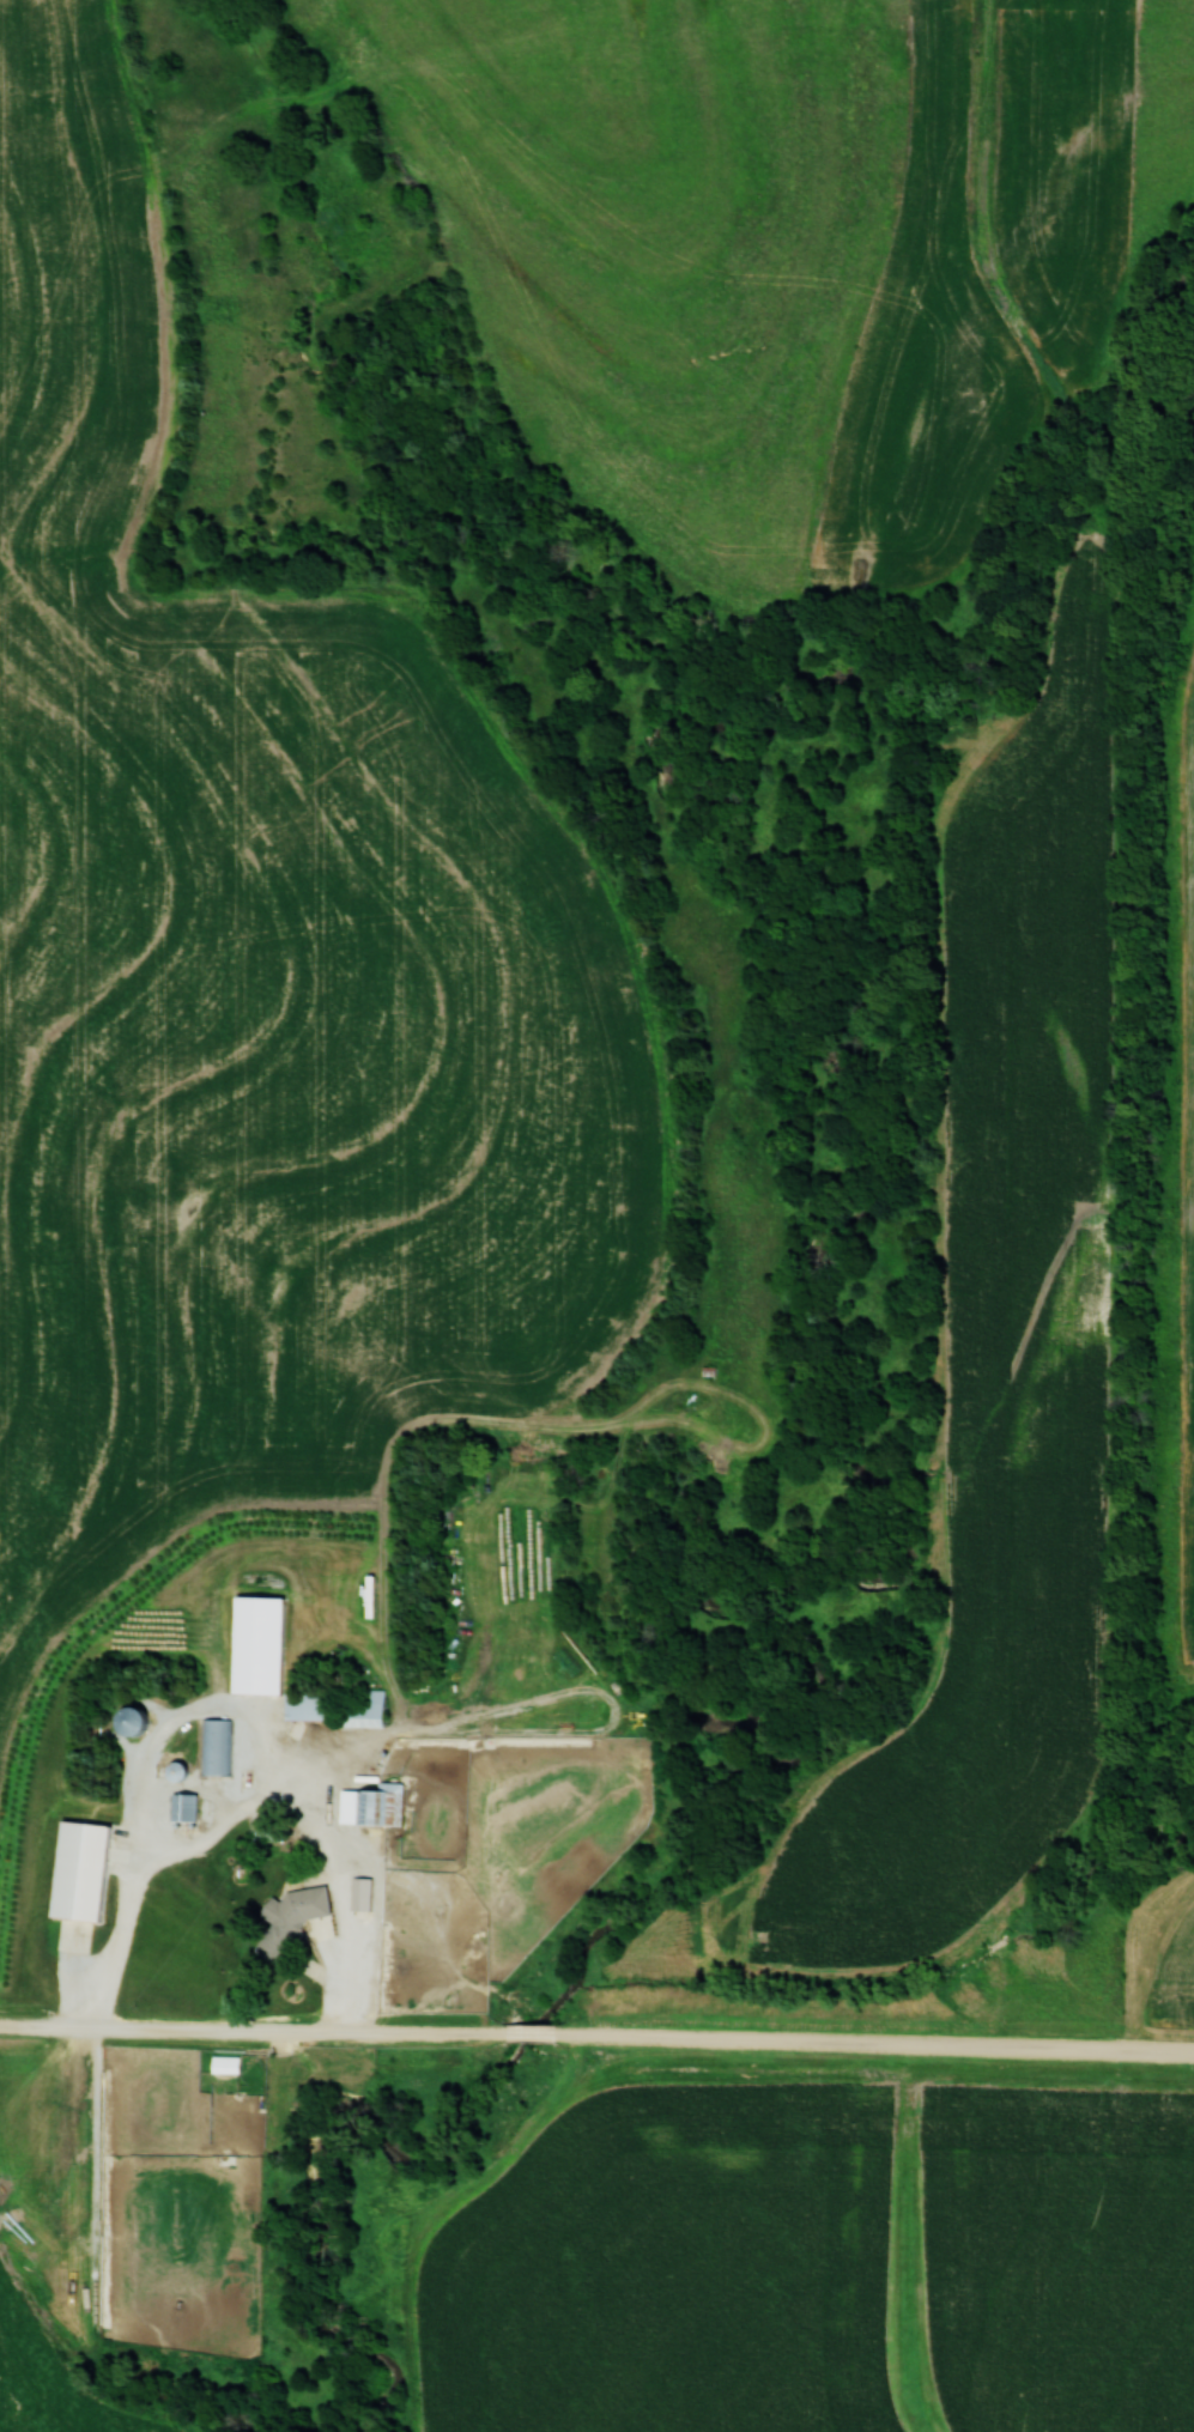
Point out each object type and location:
building: (253, 1643)
building: (302, 1704)
building: (357, 1706)
building: (125, 1718)
building: (214, 1745)
building: (171, 1769)
building: (181, 1805)
building: (369, 1805)
building: (262, 1833)
building: (75, 1869)
road: (129, 1880)
building: (358, 1892)
building: (286, 1914)
road: (251, 2030)
road: (529, 2032)
road: (873, 2044)

